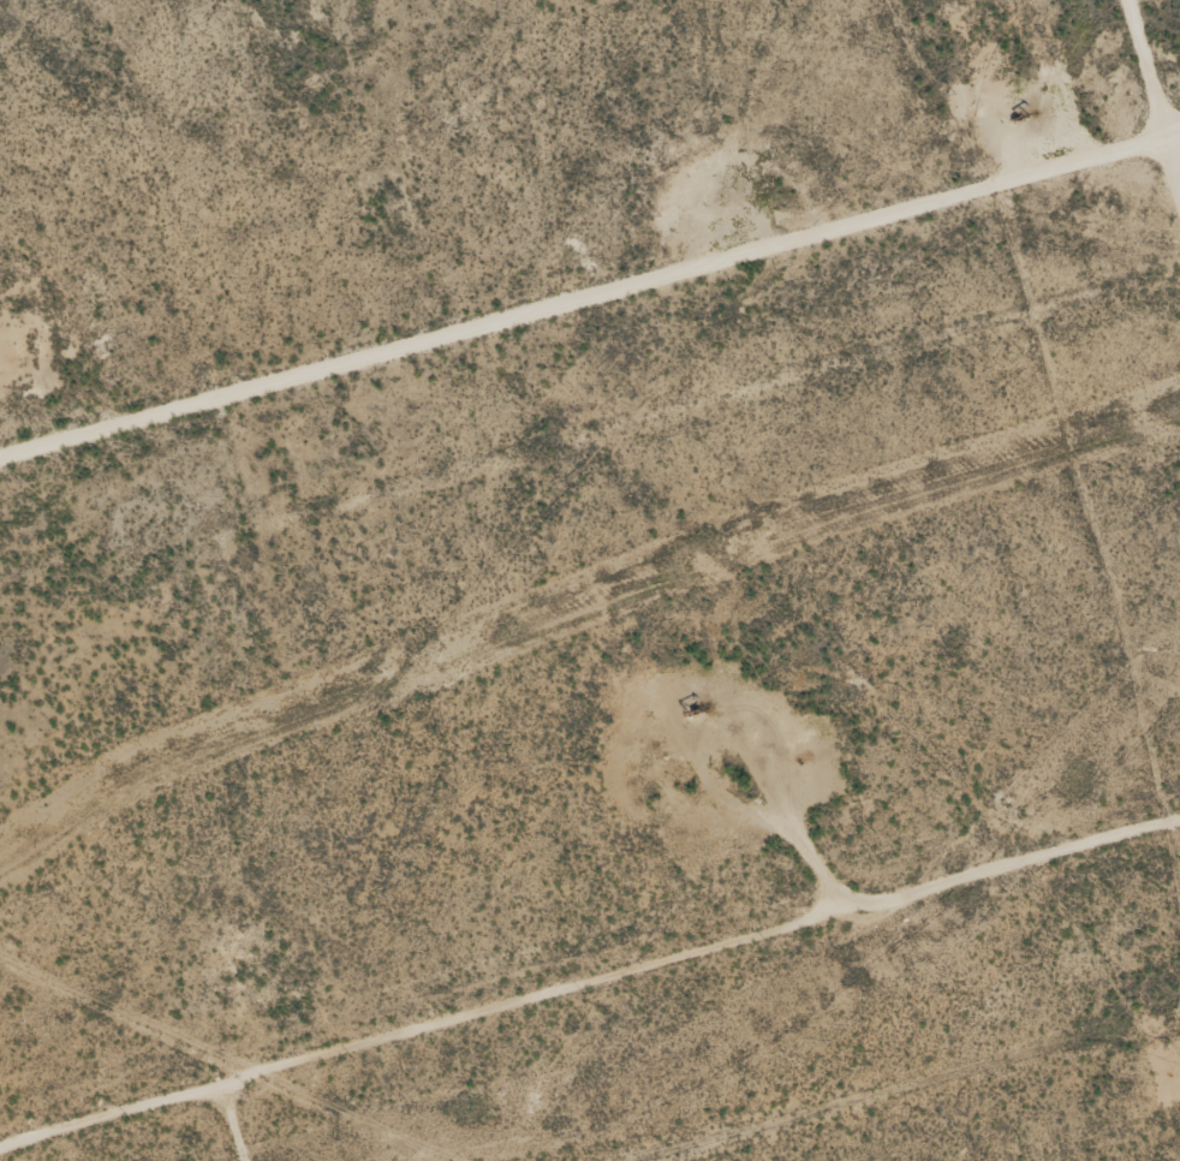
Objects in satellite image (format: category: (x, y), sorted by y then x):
road: (1121, 213)
road: (589, 317)

